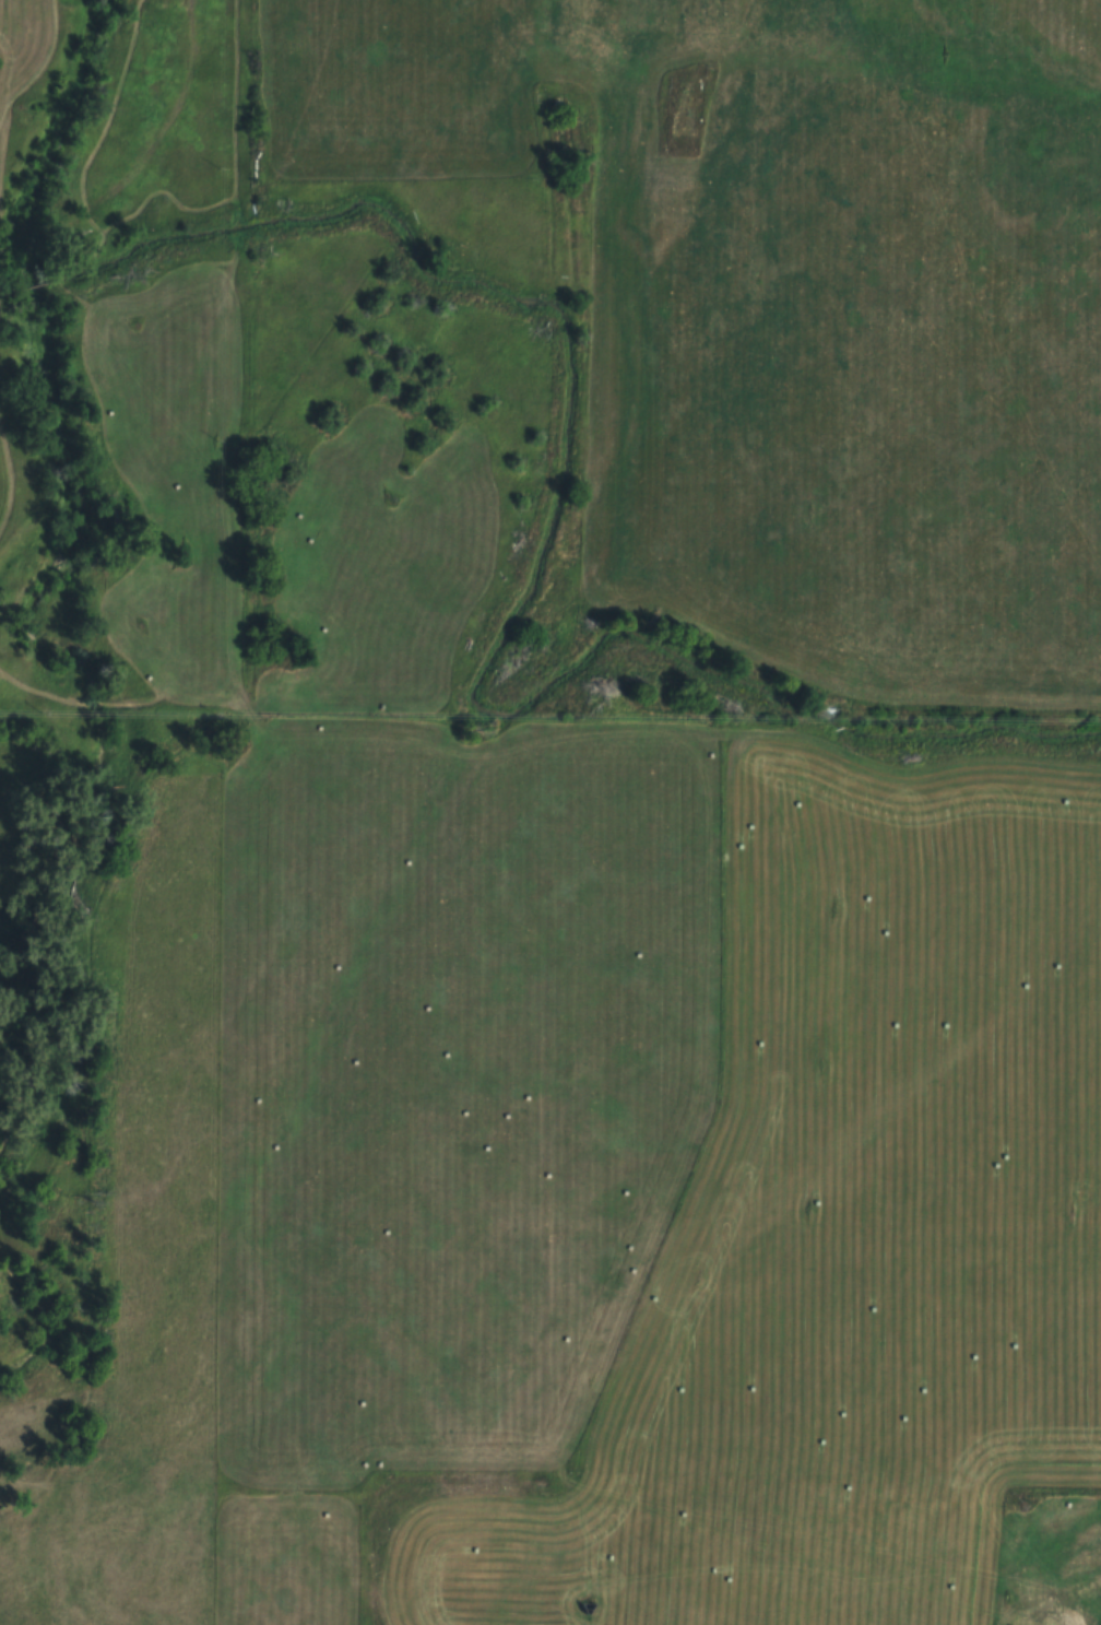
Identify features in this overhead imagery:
crop: (803, 301)

